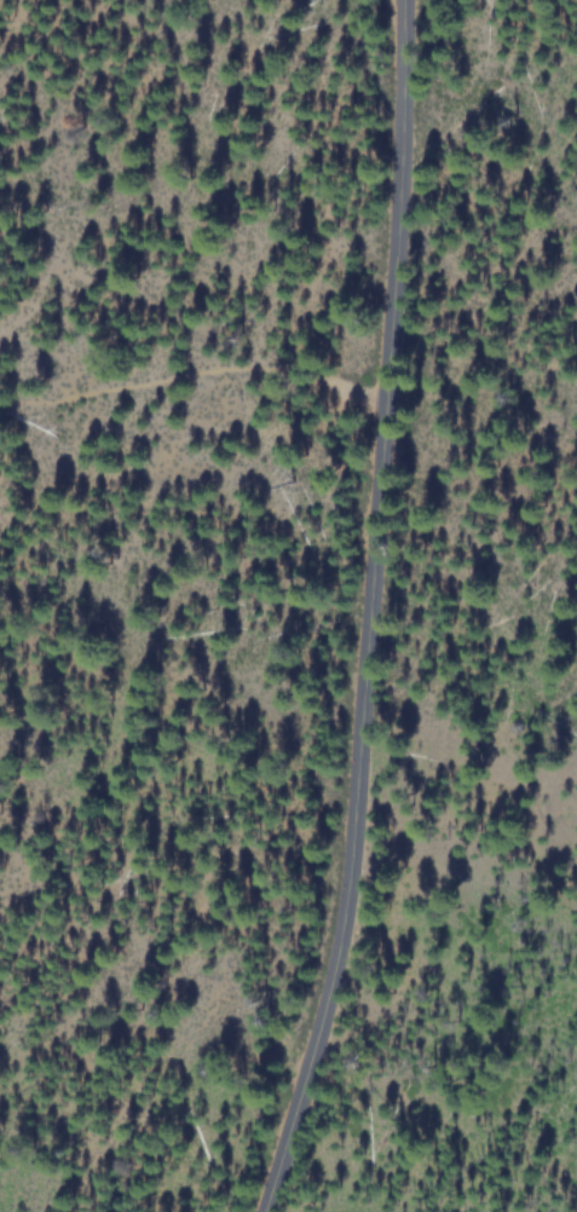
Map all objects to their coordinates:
road: (368, 611)

